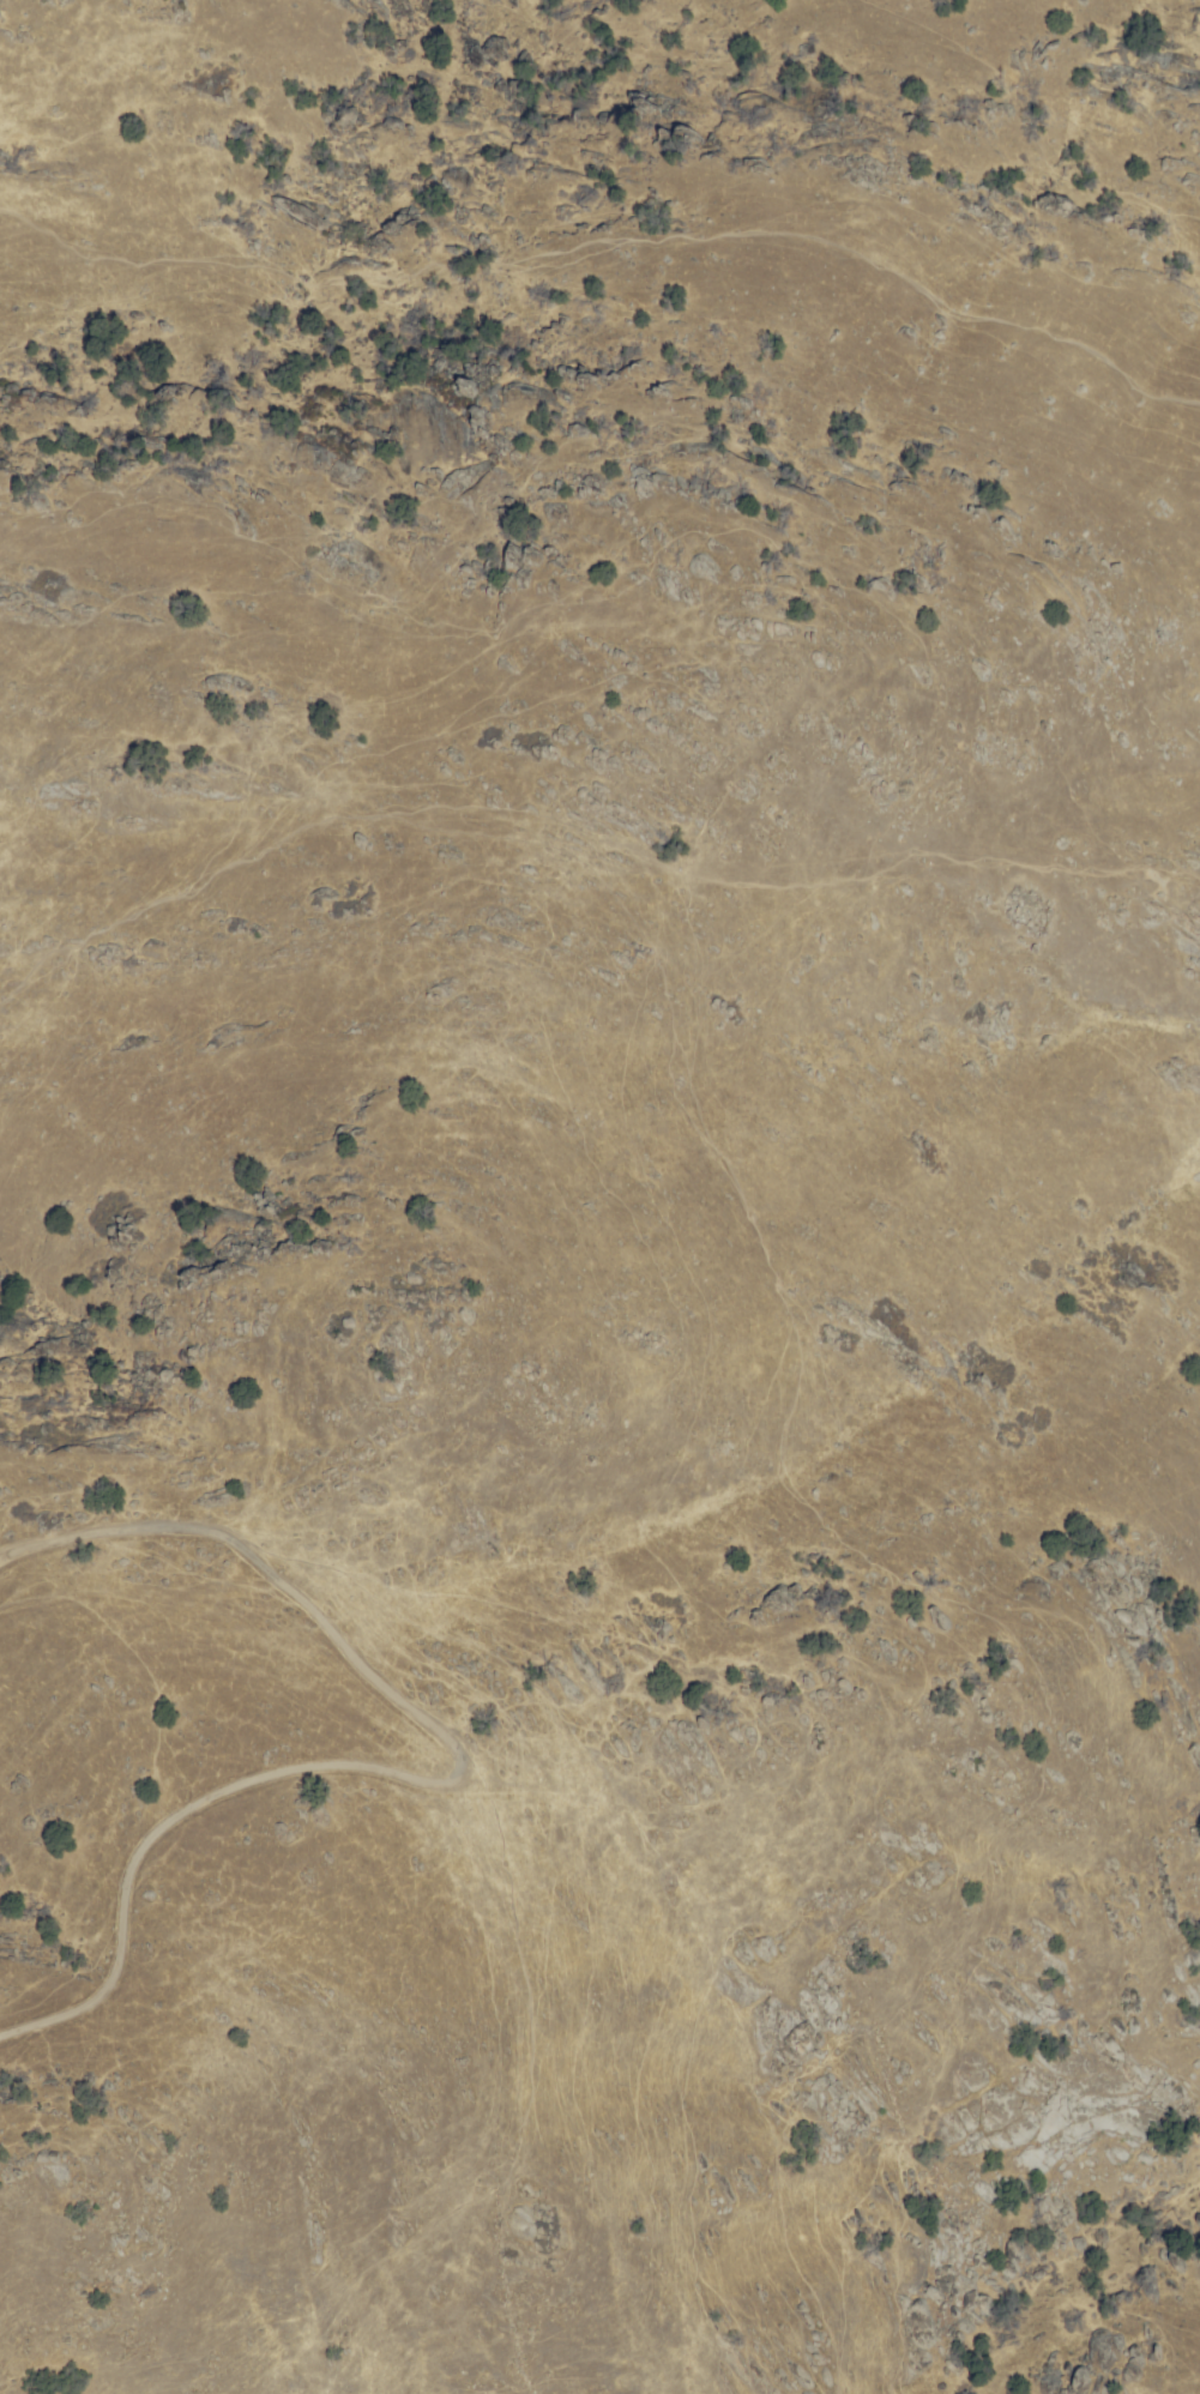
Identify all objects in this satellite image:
road: (439, 1784)

